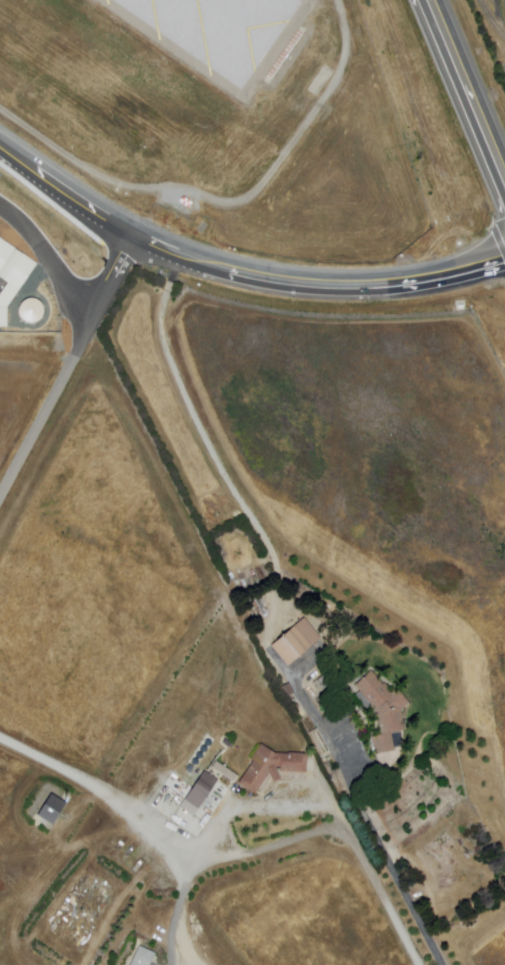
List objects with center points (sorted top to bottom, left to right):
road: (465, 89)
airport: (219, 119)
road: (224, 201)
road: (237, 268)
road: (70, 365)
crop: (18, 394)
road: (205, 443)
crop: (371, 474)
building: (298, 643)
building: (385, 712)
storage tank: (209, 742)
storage tank: (227, 743)
storage tank: (204, 748)
storage tank: (200, 755)
storage tank: (195, 761)
storage tank: (191, 768)
building: (271, 768)
building: (226, 771)
wind turbine: (56, 781)
road: (108, 790)
building: (199, 793)
building: (52, 807)
road: (294, 839)
road: (384, 848)
building: (170, 861)
crop: (484, 948)
building: (143, 957)

